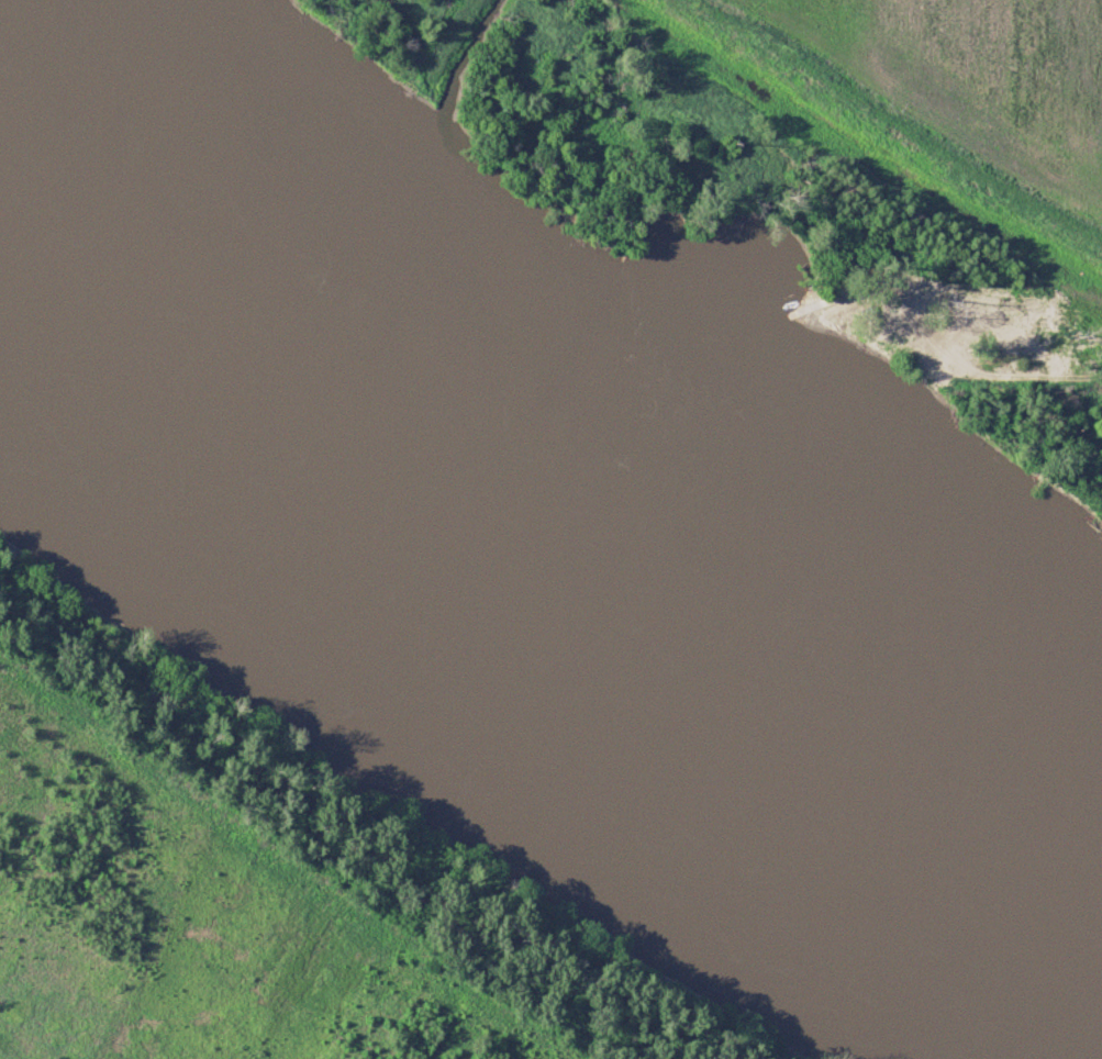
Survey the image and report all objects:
river: (550, 532)

